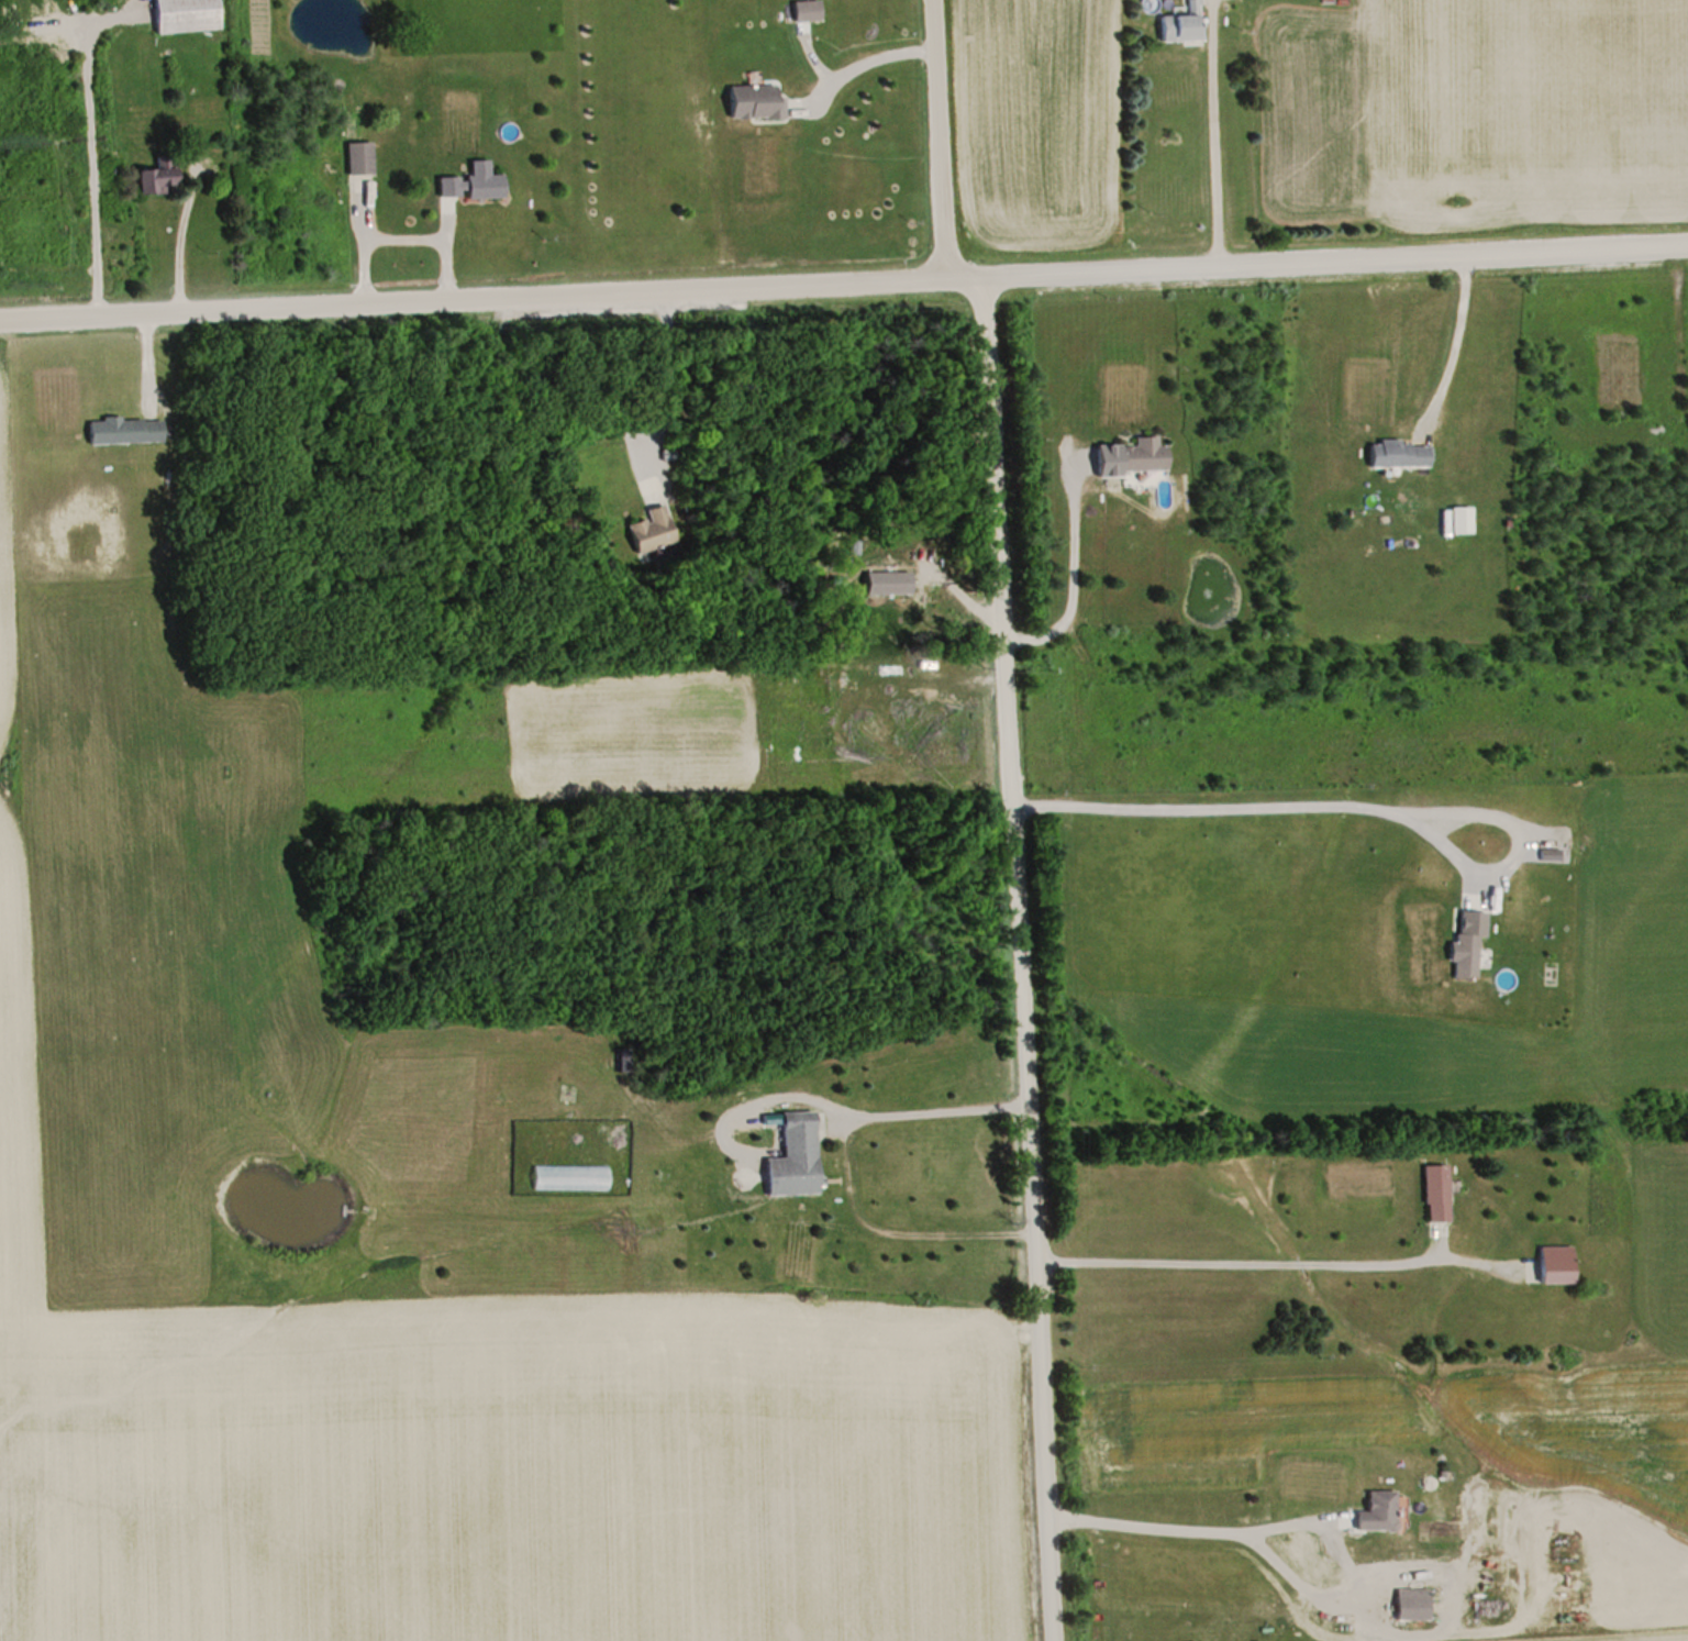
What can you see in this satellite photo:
building: (807, 10)
building: (187, 14)
building: (1180, 23)
building: (756, 100)
road: (84, 141)
building: (359, 166)
building: (160, 175)
building: (486, 185)
road: (173, 241)
road: (843, 279)
road: (673, 372)
building: (126, 430)
building: (1143, 454)
building: (1399, 454)
building: (653, 530)
road: (1347, 801)
road: (1008, 812)
building: (1468, 944)
building: (622, 1058)
building: (568, 1091)
building: (796, 1156)
building: (1437, 1193)
building: (1558, 1264)
building: (1379, 1512)
road: (1295, 1520)
building: (1413, 1605)

